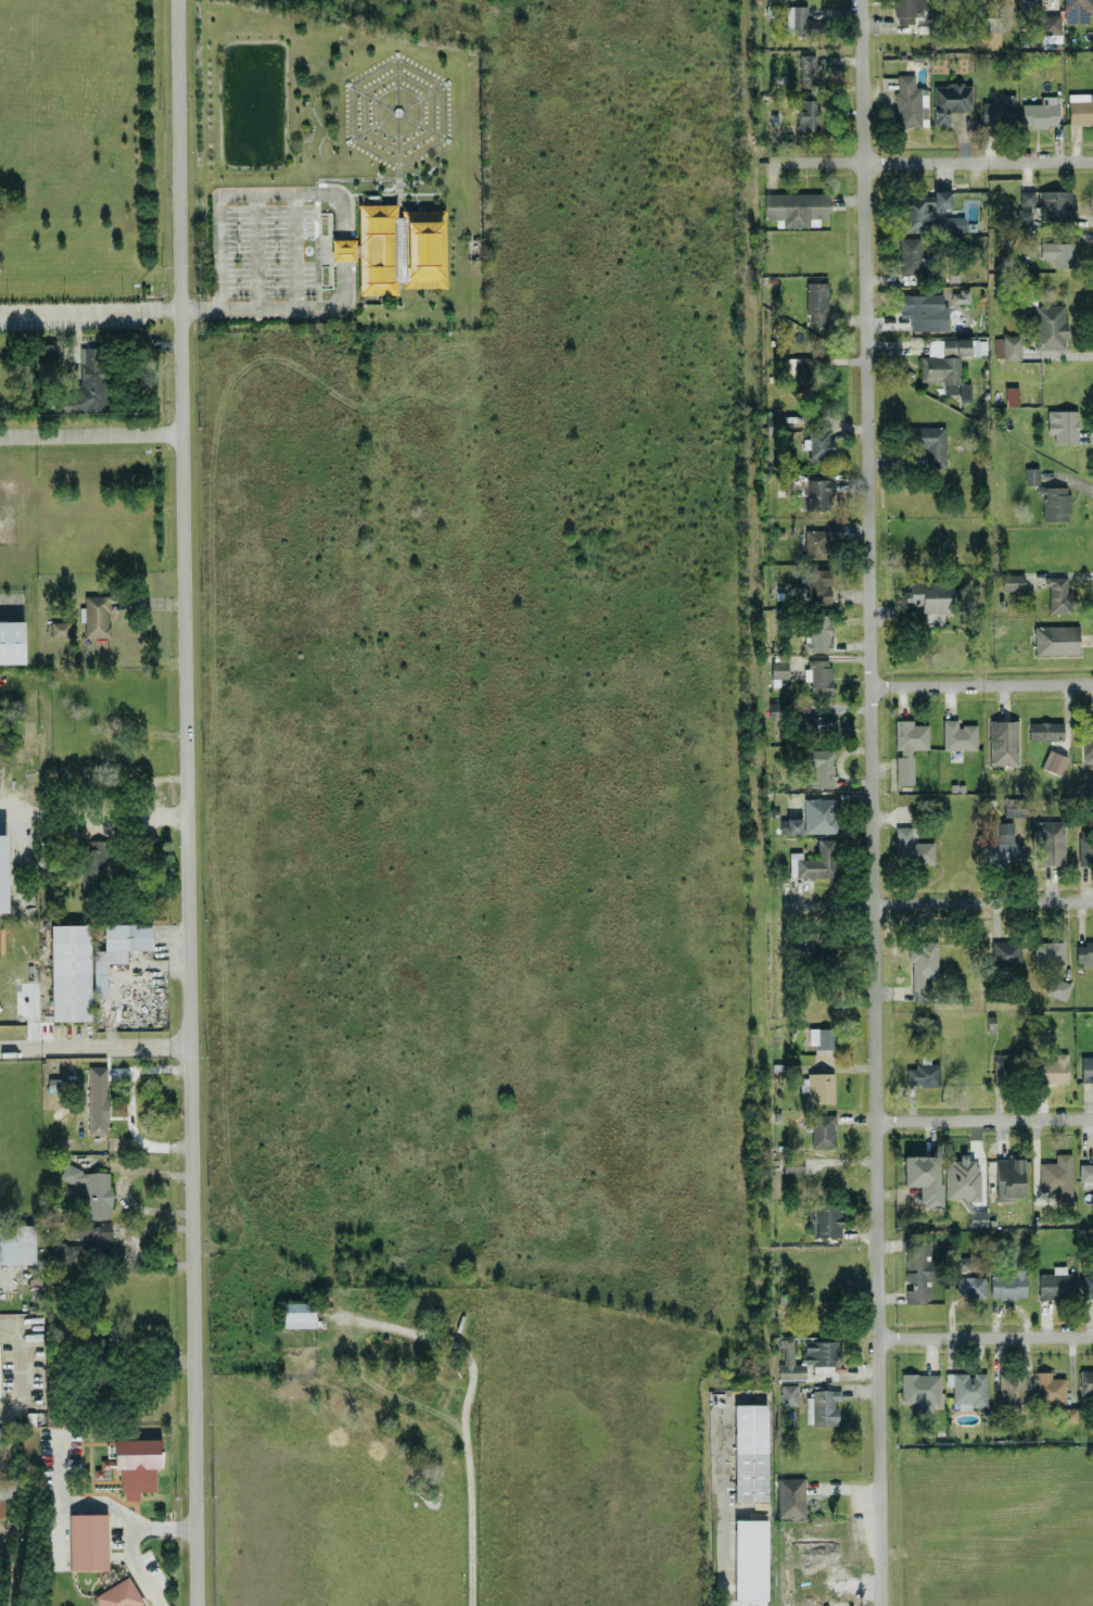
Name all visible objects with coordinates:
building: (997, 3)
building: (907, 10)
building: (1077, 10)
building: (801, 21)
building: (988, 22)
building: (1050, 23)
building: (988, 39)
building: (810, 69)
building: (950, 100)
building: (910, 101)
building: (1080, 106)
building: (999, 110)
building: (1040, 112)
building: (809, 113)
road: (930, 159)
road: (864, 182)
building: (1026, 197)
building: (941, 198)
building: (1055, 203)
building: (797, 207)
road: (344, 212)
building: (926, 216)
building: (343, 248)
building: (398, 248)
road: (255, 251)
road: (292, 251)
building: (1057, 252)
building: (910, 254)
building: (961, 294)
building: (816, 302)
building: (924, 309)
road: (91, 311)
building: (1050, 326)
building: (1007, 345)
building: (46, 351)
building: (945, 364)
building: (804, 372)
building: (89, 382)
building: (1012, 394)
building: (1063, 425)
road: (92, 435)
building: (928, 441)
building: (819, 443)
building: (1031, 475)
building: (818, 493)
building: (1054, 502)
building: (816, 542)
building: (1013, 581)
building: (817, 585)
building: (1057, 593)
building: (931, 594)
building: (96, 615)
building: (59, 628)
building: (818, 632)
building: (1055, 638)
building: (11, 641)
building: (779, 668)
building: (819, 676)
road: (981, 683)
building: (817, 721)
building: (1045, 730)
building: (958, 734)
building: (1088, 738)
building: (1003, 741)
building: (907, 746)
building: (1054, 760)
building: (821, 766)
road: (186, 802)
road: (5, 809)
building: (821, 813)
road: (136, 818)
building: (793, 824)
building: (1050, 842)
building: (1085, 845)
building: (912, 846)
building: (1002, 846)
building: (815, 860)
building: (93, 870)
building: (2, 872)
road: (940, 902)
building: (117, 948)
building: (1006, 950)
building: (1047, 950)
building: (1084, 952)
building: (923, 966)
building: (71, 971)
road: (874, 985)
building: (1057, 987)
building: (821, 1036)
road: (94, 1045)
building: (1006, 1065)
building: (1086, 1066)
building: (923, 1073)
building: (55, 1083)
building: (821, 1086)
building: (97, 1098)
road: (984, 1117)
building: (823, 1129)
building: (792, 1164)
building: (1086, 1174)
building: (1056, 1175)
building: (923, 1176)
building: (961, 1176)
building: (1008, 1177)
building: (90, 1189)
building: (977, 1217)
building: (826, 1219)
building: (97, 1239)
building: (16, 1242)
building: (962, 1262)
building: (919, 1268)
building: (1054, 1281)
building: (1008, 1282)
building: (1086, 1282)
building: (970, 1285)
building: (785, 1295)
building: (298, 1313)
road: (986, 1336)
building: (806, 1355)
road: (22, 1367)
building: (1086, 1380)
building: (1012, 1387)
building: (1050, 1387)
building: (968, 1388)
building: (920, 1389)
building: (789, 1393)
building: (822, 1405)
building: (1070, 1413)
building: (750, 1451)
building: (134, 1464)
building: (9, 1493)
building: (790, 1496)
road: (474, 1500)
building: (88, 1540)
road: (129, 1541)
road: (723, 1548)
building: (750, 1558)
building: (118, 1594)

